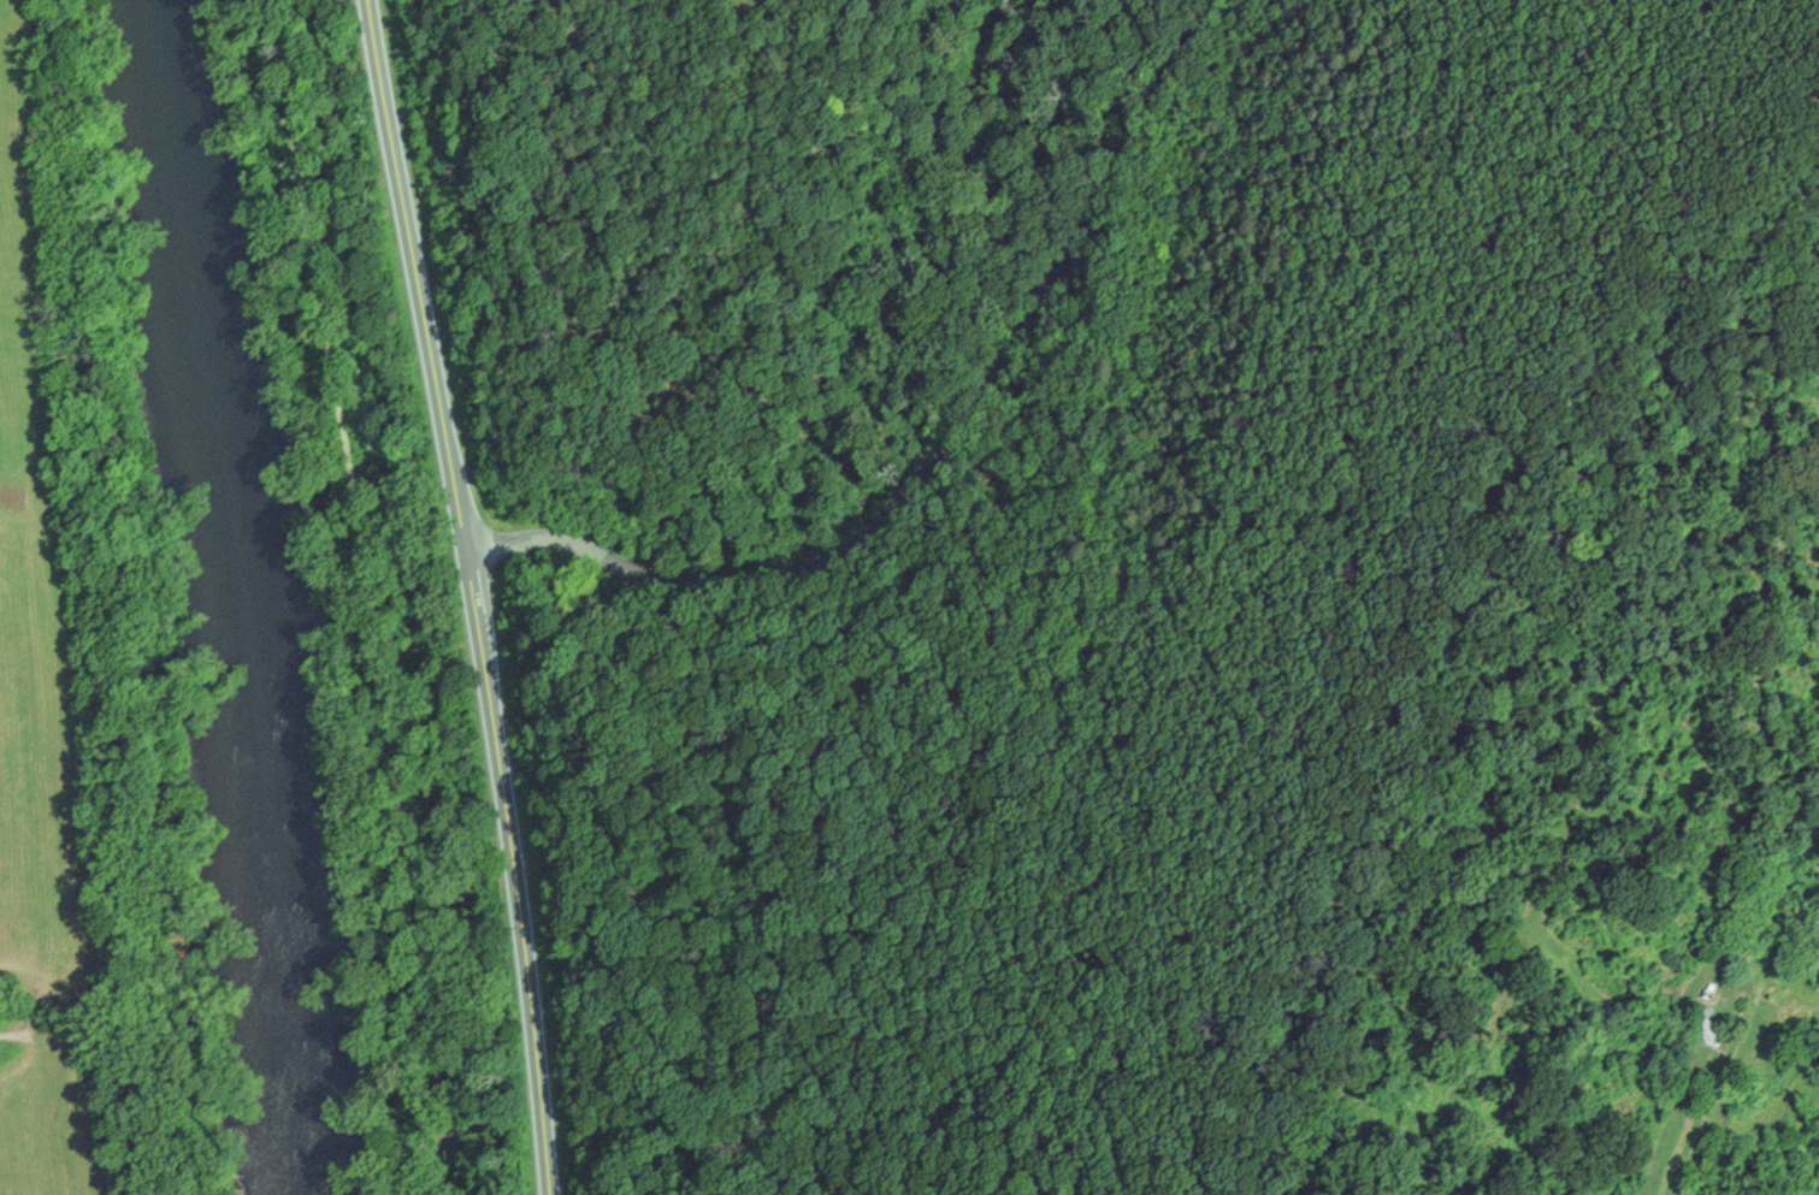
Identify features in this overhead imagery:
road: (938, 454)
river: (256, 594)
road: (372, 594)
road: (472, 594)
building: (1702, 1024)
road: (1714, 1092)

